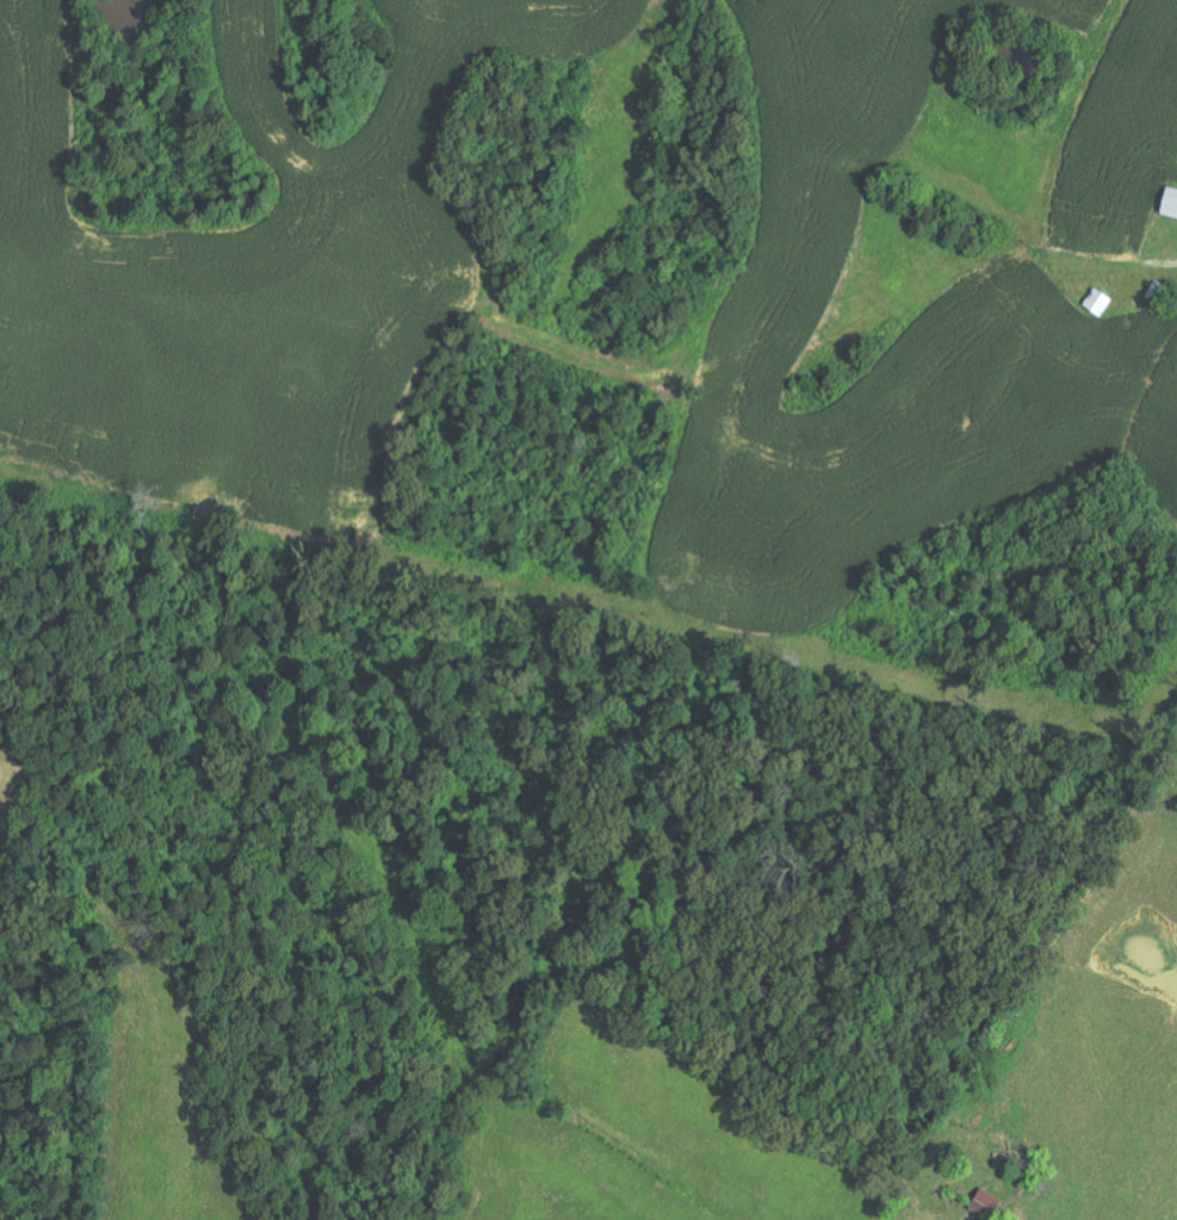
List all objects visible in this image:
building: (1169, 203)
building: (1097, 302)

